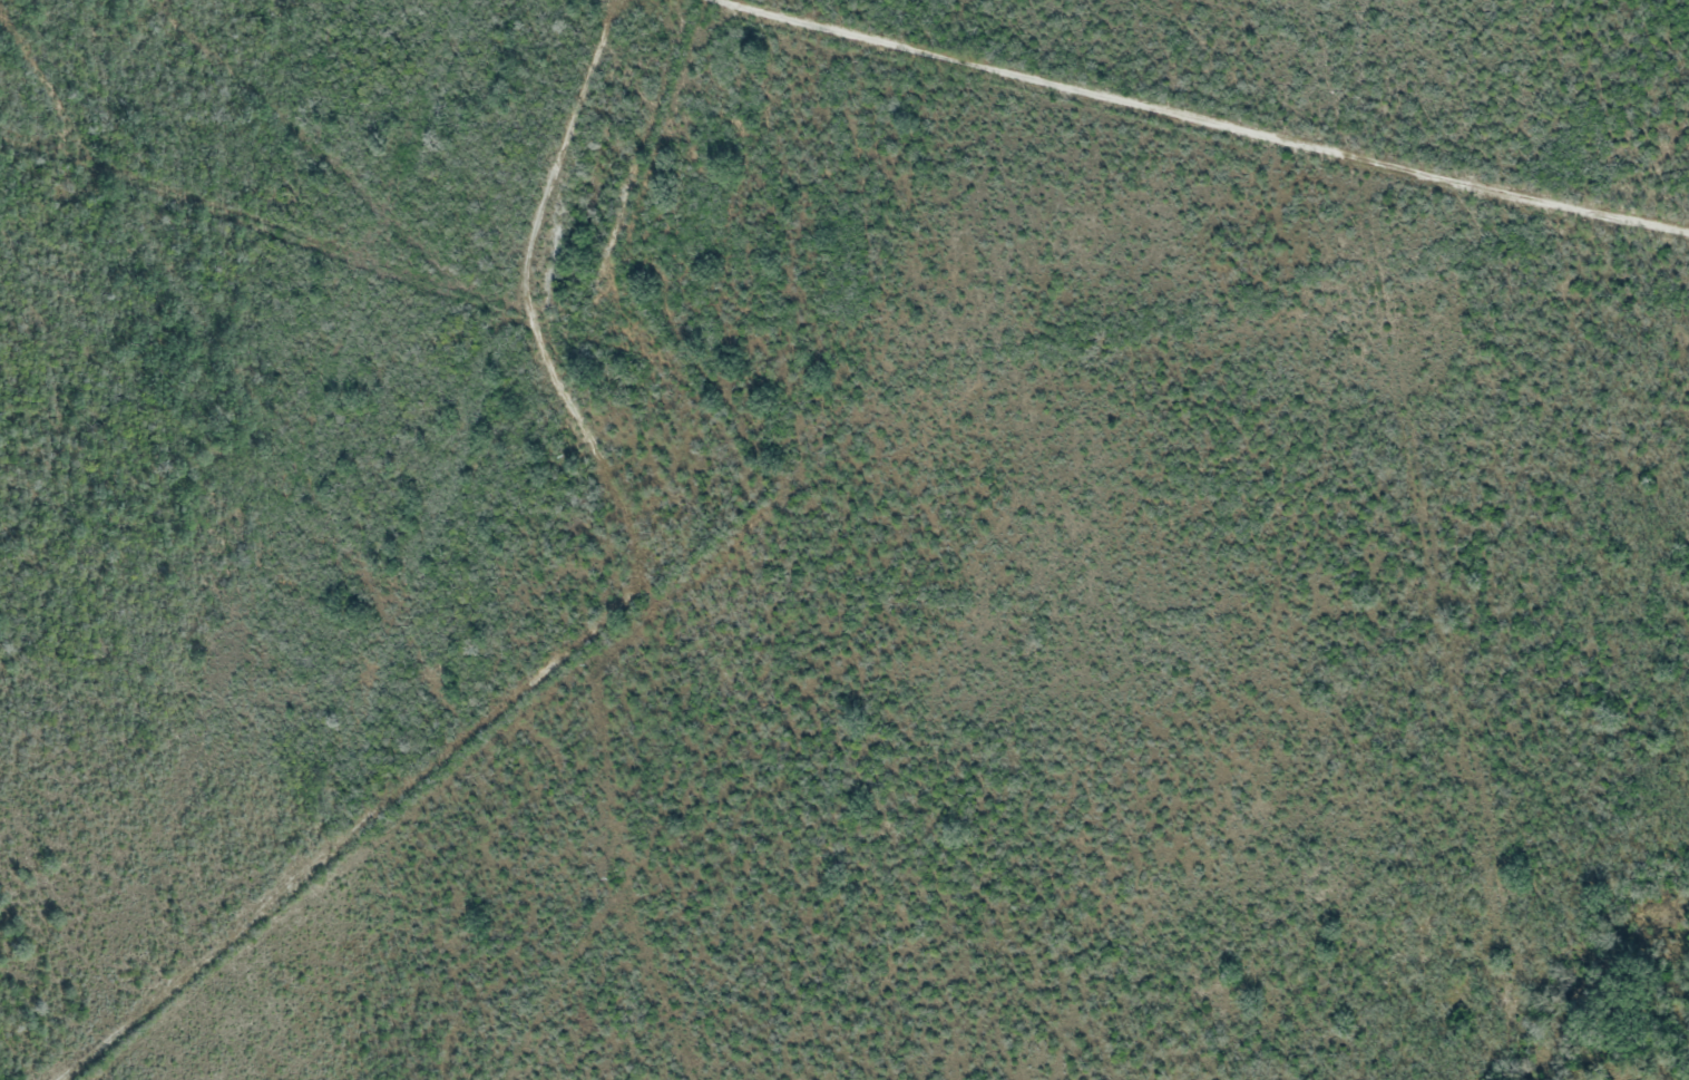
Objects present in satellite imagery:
road: (1200, 120)
road: (585, 632)

